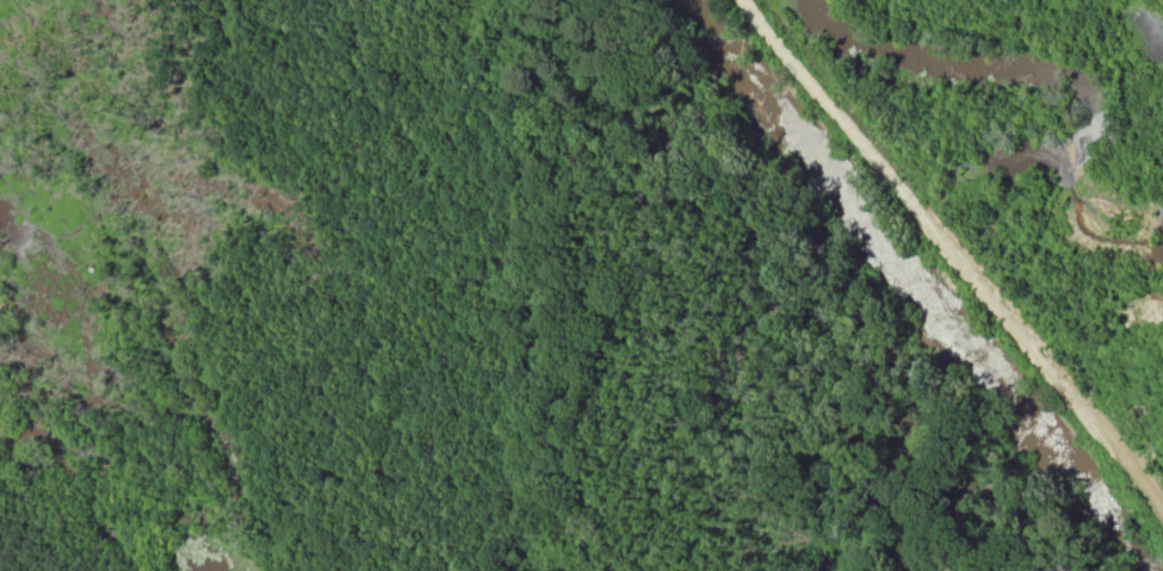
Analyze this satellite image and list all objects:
road: (959, 259)

